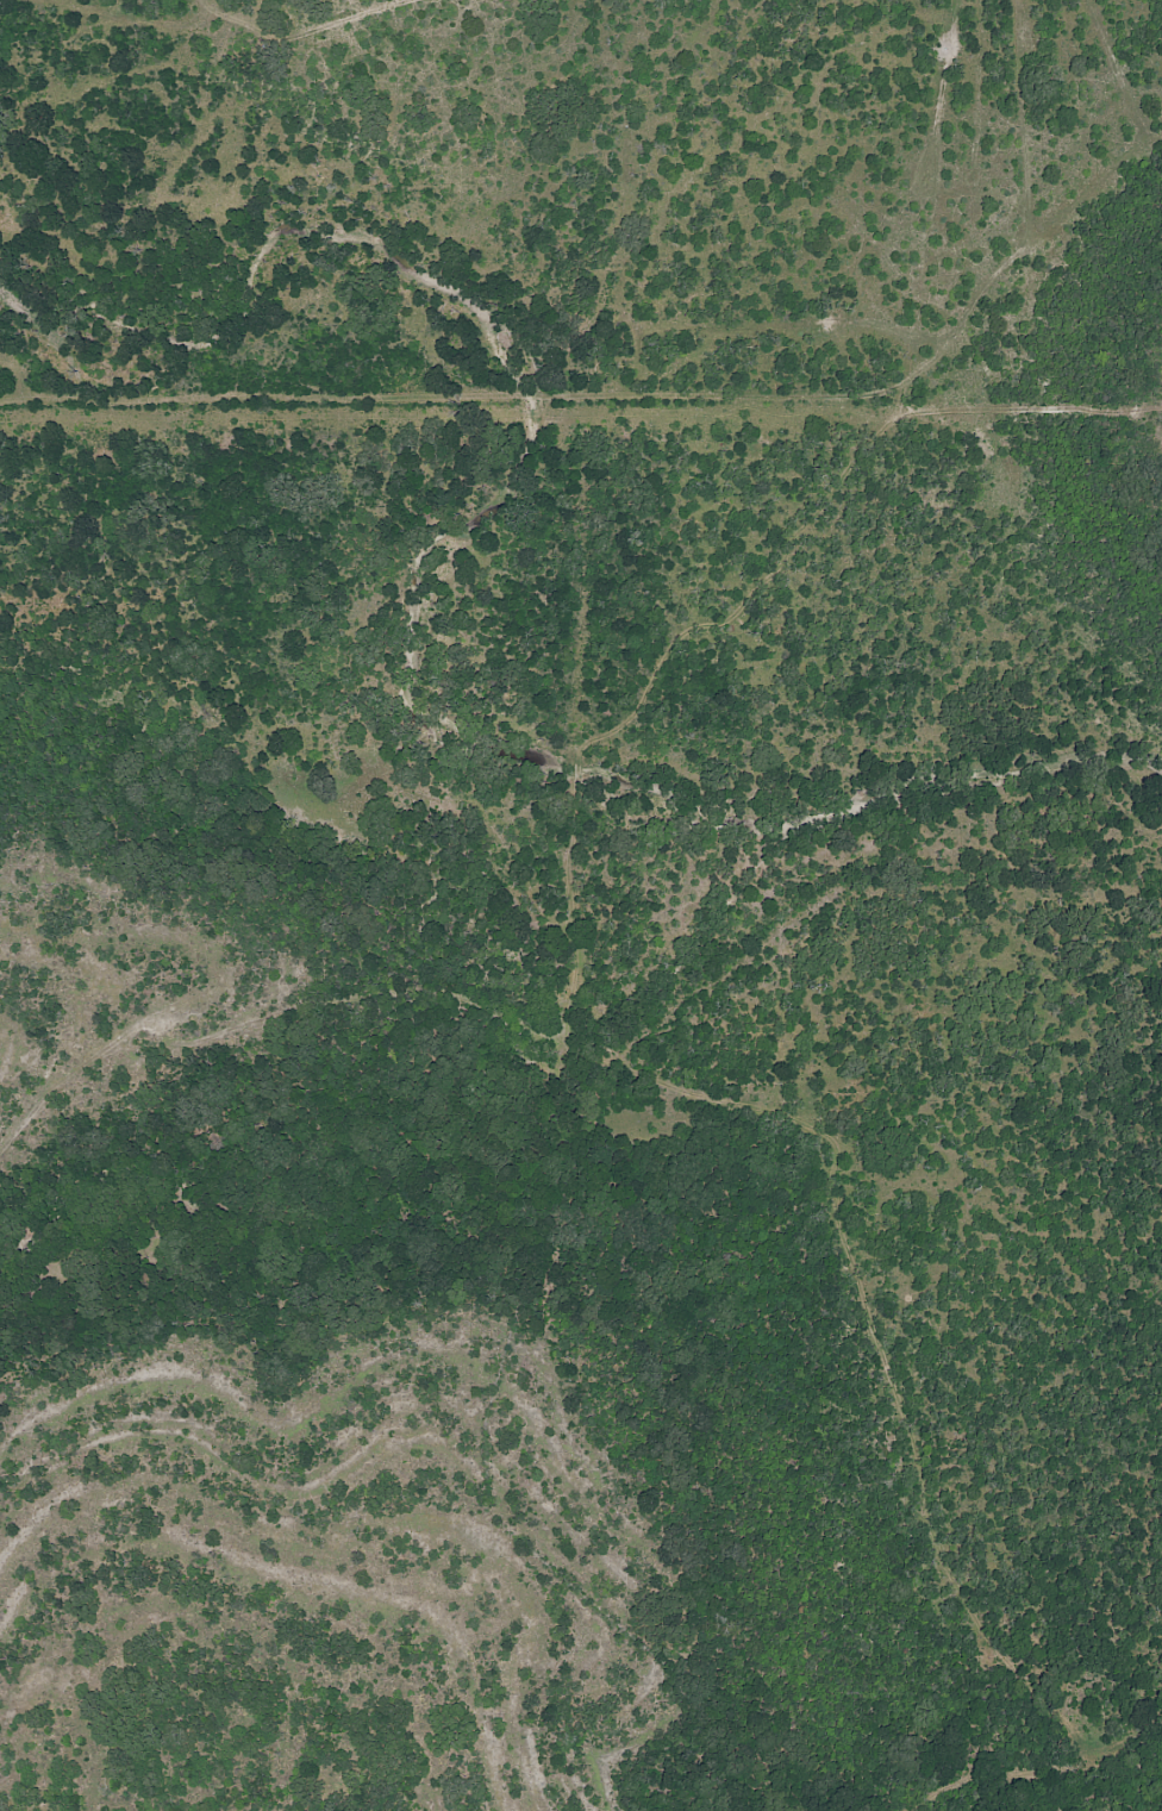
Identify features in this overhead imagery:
road: (713, 1114)
road: (1094, 1785)

